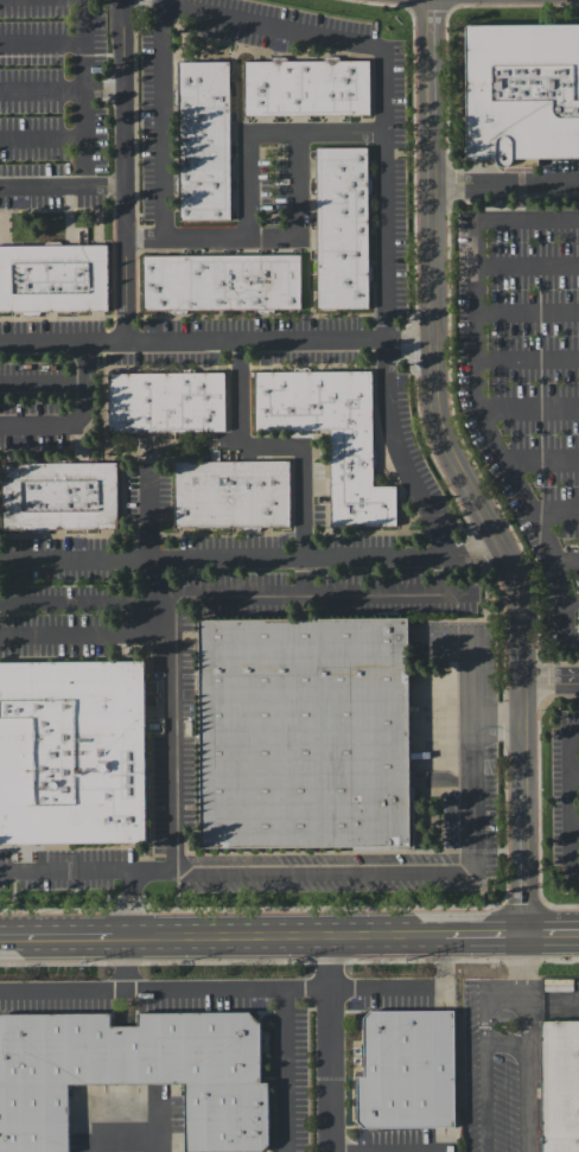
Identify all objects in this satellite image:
road: (165, 12)
building: (308, 91)
building: (522, 96)
road: (84, 114)
road: (267, 133)
building: (204, 146)
road: (125, 171)
road: (478, 182)
road: (549, 182)
road: (388, 196)
building: (343, 234)
road: (262, 238)
building: (52, 281)
building: (224, 285)
road: (219, 343)
parking lot: (532, 382)
road: (62, 383)
road: (477, 393)
building: (167, 405)
building: (332, 439)
road: (272, 446)
road: (399, 451)
road: (458, 470)
building: (233, 497)
building: (59, 498)
road: (147, 513)
road: (470, 546)
road: (222, 555)
road: (228, 596)
road: (85, 631)
road: (548, 677)
road: (471, 680)
road: (172, 728)
building: (307, 737)
building: (71, 756)
road: (575, 776)
parking lot: (570, 801)
road: (573, 801)
road: (575, 827)
road: (415, 867)
road: (100, 870)
road: (551, 931)
road: (483, 933)
road: (276, 934)
road: (56, 935)
road: (523, 955)
road: (443, 960)
road: (125, 961)
road: (364, 987)
road: (62, 988)
road: (523, 988)
road: (285, 989)
road: (552, 998)
road: (329, 1043)
road: (505, 1043)
road: (485, 1056)
parking lot: (508, 1057)
building: (405, 1070)
building: (133, 1073)
road: (527, 1075)
building: (559, 1086)
road: (125, 1107)

